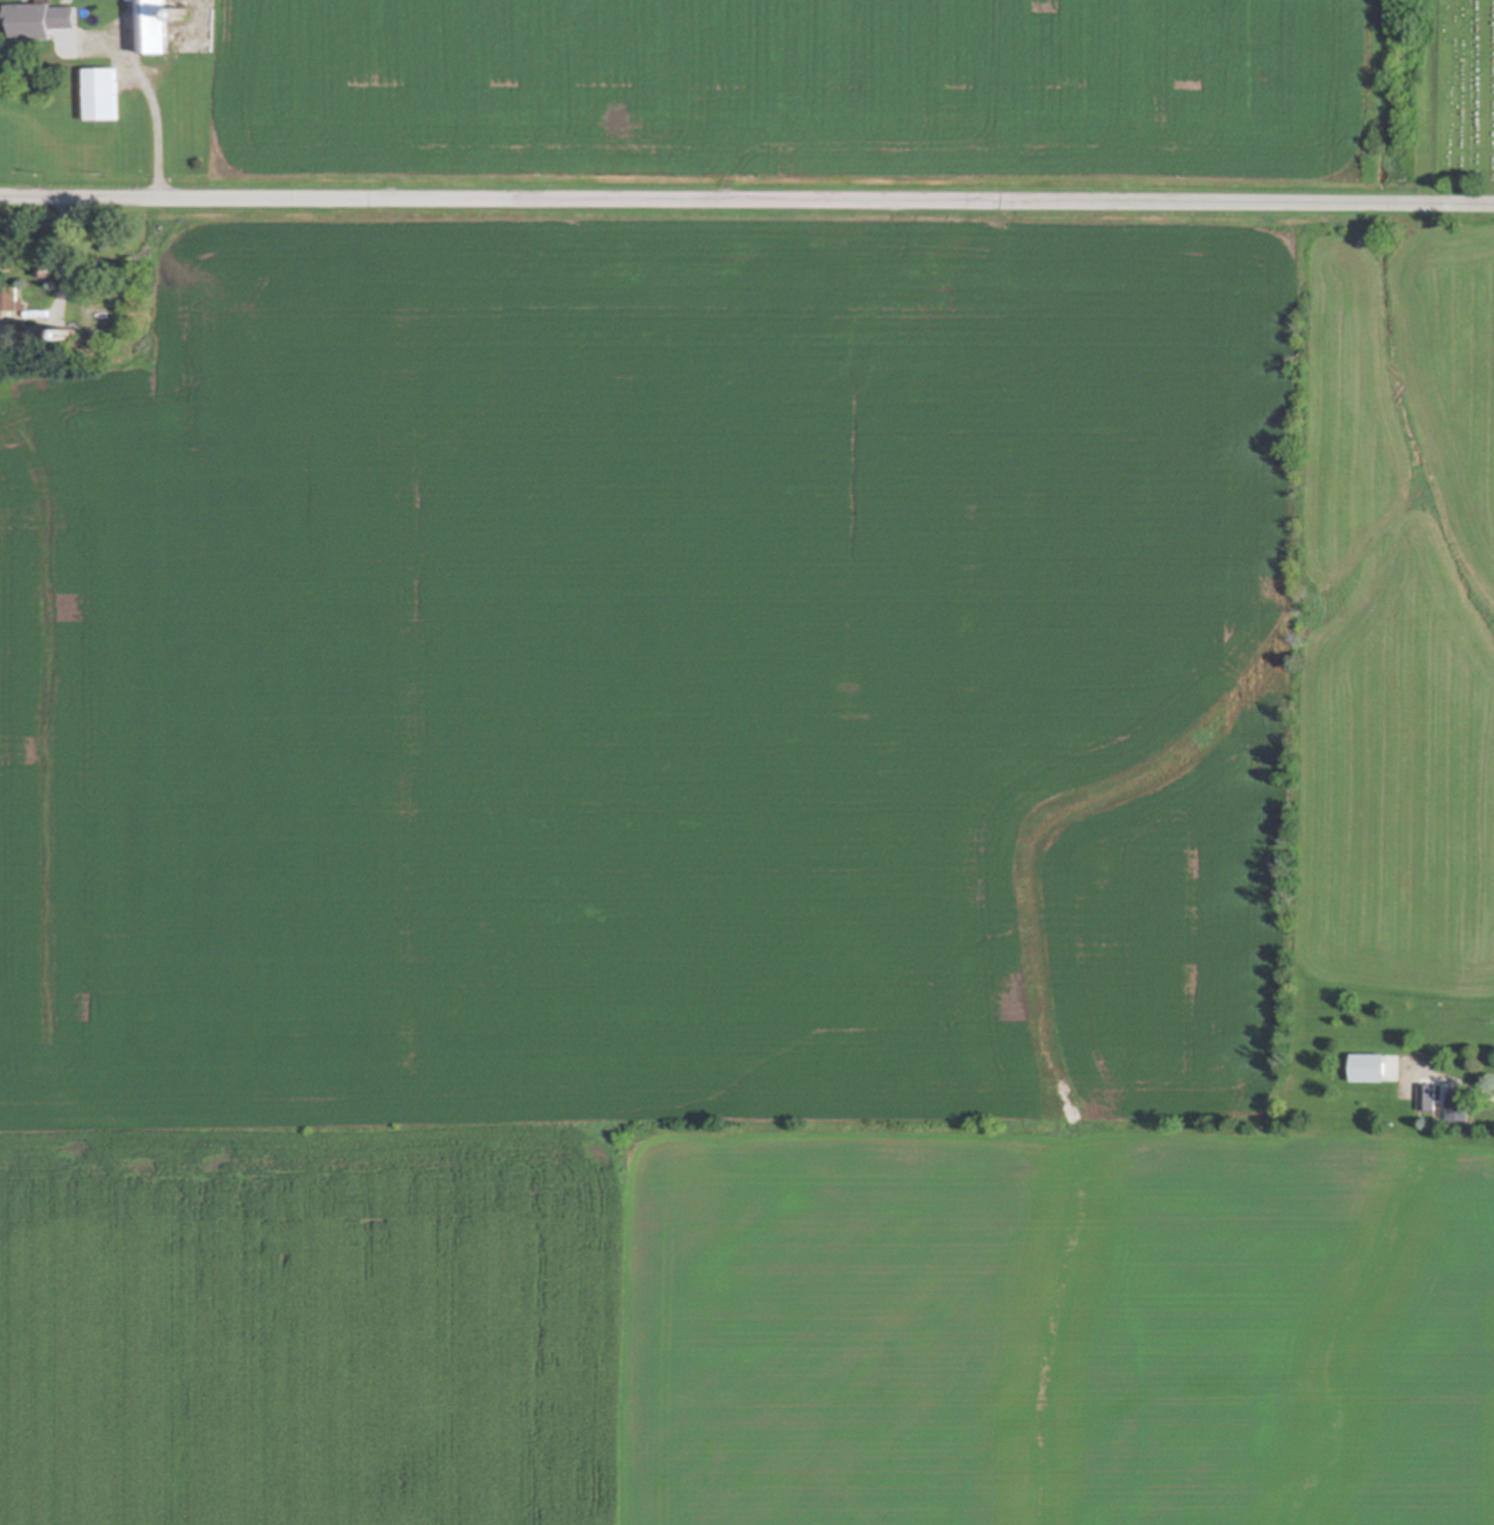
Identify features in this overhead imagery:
building: (187, 11)
building: (44, 14)
building: (157, 22)
building: (106, 86)
park: (1459, 96)
road: (158, 112)
road: (746, 200)
building: (47, 263)
road: (68, 273)
building: (12, 293)
building: (104, 319)
building: (75, 330)
building: (1372, 1064)
road: (1447, 1080)
building: (1431, 1095)
building: (1462, 1103)
building: (1394, 1104)

